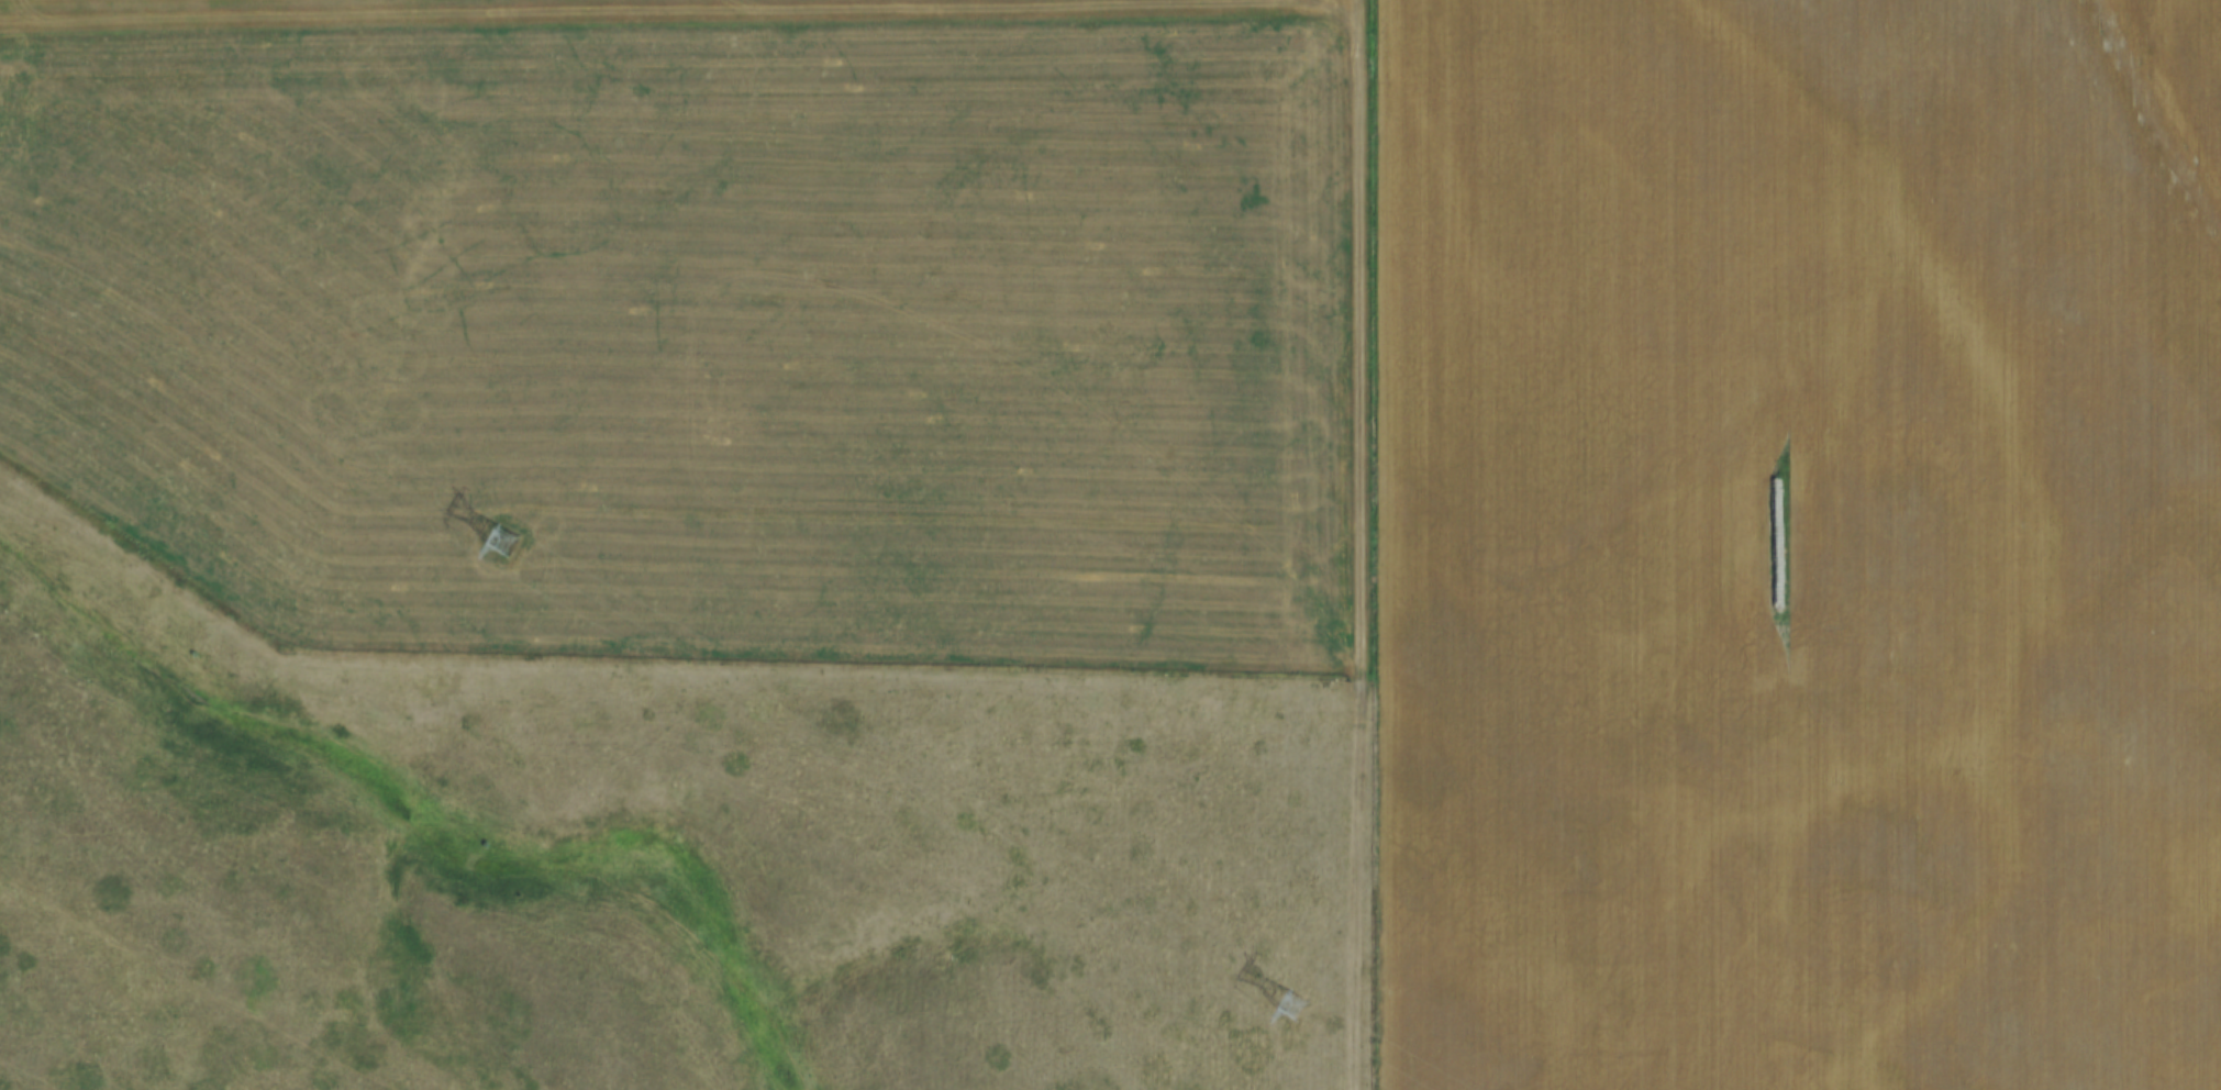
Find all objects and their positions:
power tower: (511, 553)
power tower: (1302, 1021)

